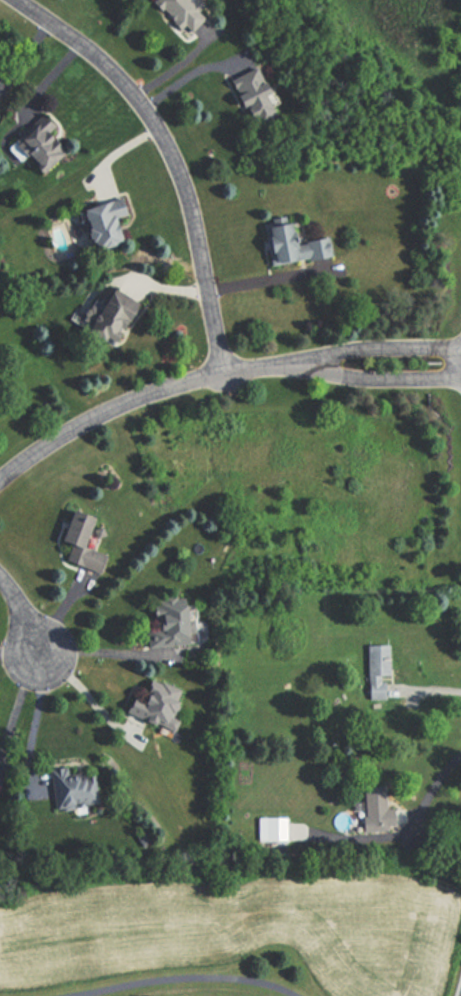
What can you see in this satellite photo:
building: (182, 13)
road: (24, 56)
road: (175, 67)
road: (185, 75)
road: (50, 77)
building: (250, 95)
building: (34, 143)
road: (119, 150)
road: (174, 156)
building: (99, 222)
building: (288, 245)
road: (264, 279)
road: (166, 288)
building: (107, 317)
road: (383, 346)
road: (384, 368)
road: (145, 395)
building: (77, 543)
road: (24, 613)
road: (57, 615)
building: (164, 623)
road: (105, 653)
road: (20, 654)
building: (375, 672)
road: (88, 697)
road: (16, 702)
building: (151, 704)
road: (35, 719)
building: (67, 789)
road: (432, 790)
building: (373, 808)
crop: (223, 934)
road: (187, 979)

